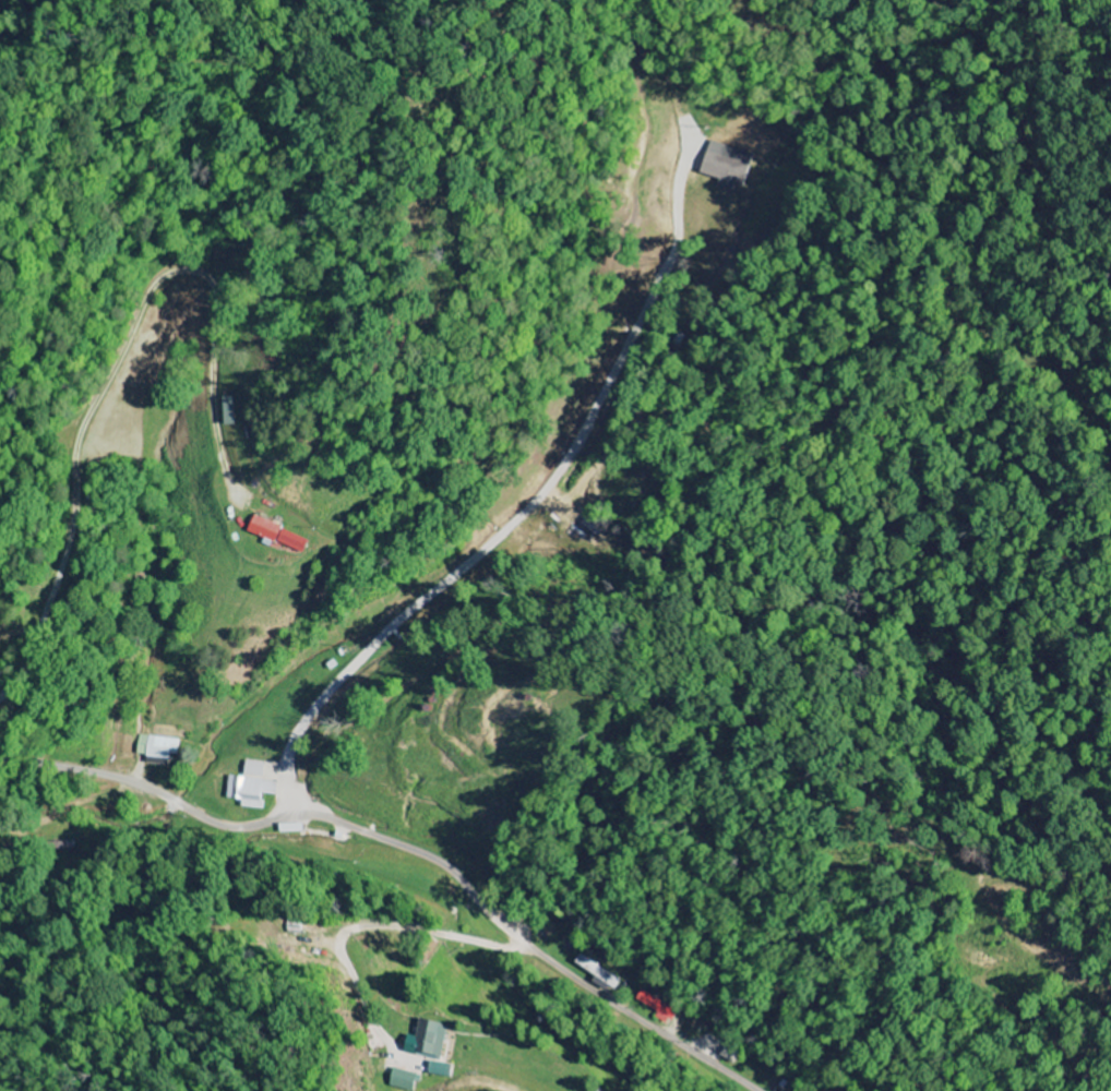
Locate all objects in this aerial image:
building: (721, 169)
building: (225, 411)
building: (276, 535)
building: (154, 748)
building: (248, 787)
road: (409, 850)
building: (429, 1040)
building: (399, 1080)

